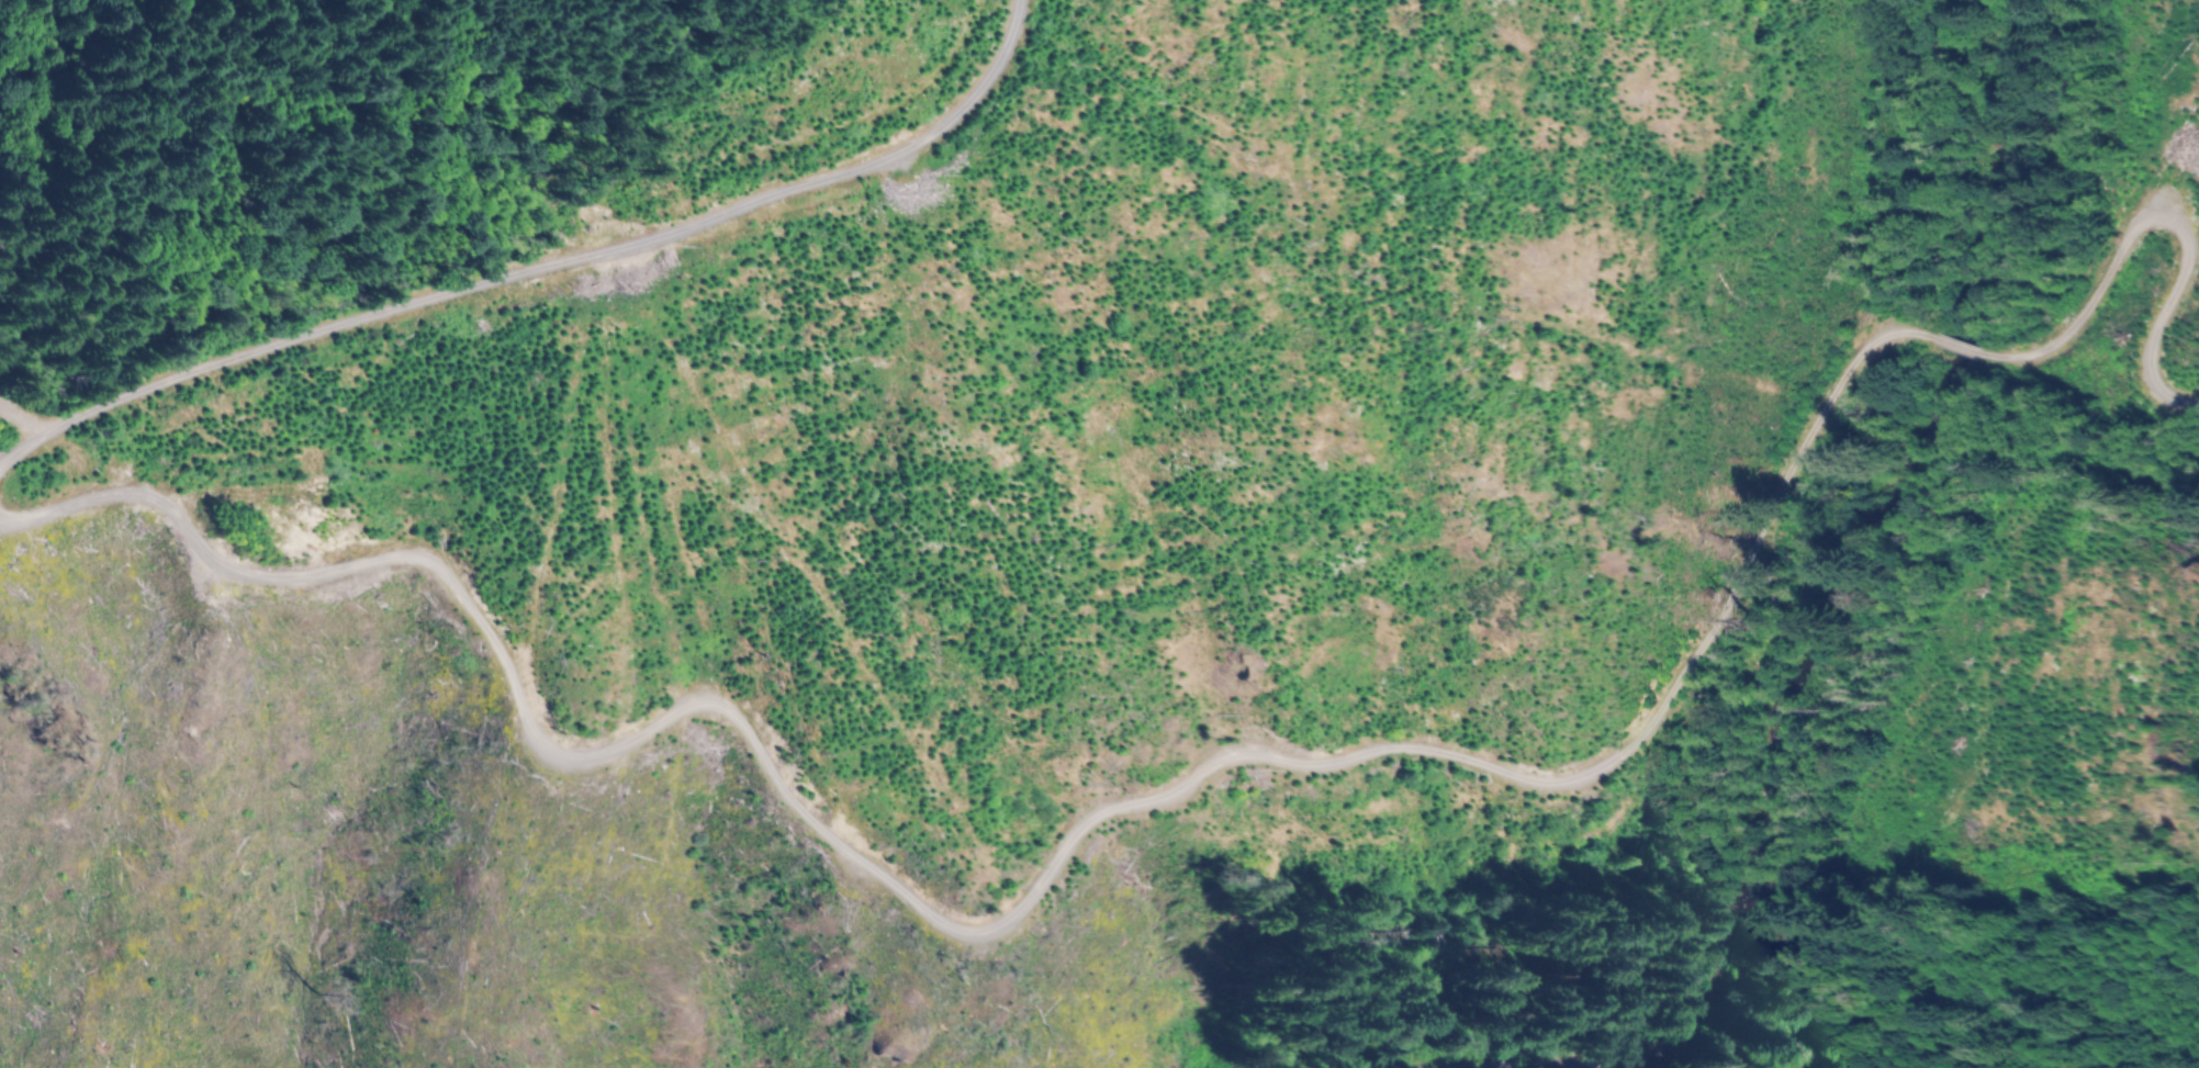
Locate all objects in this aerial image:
road: (540, 268)
road: (1220, 760)

